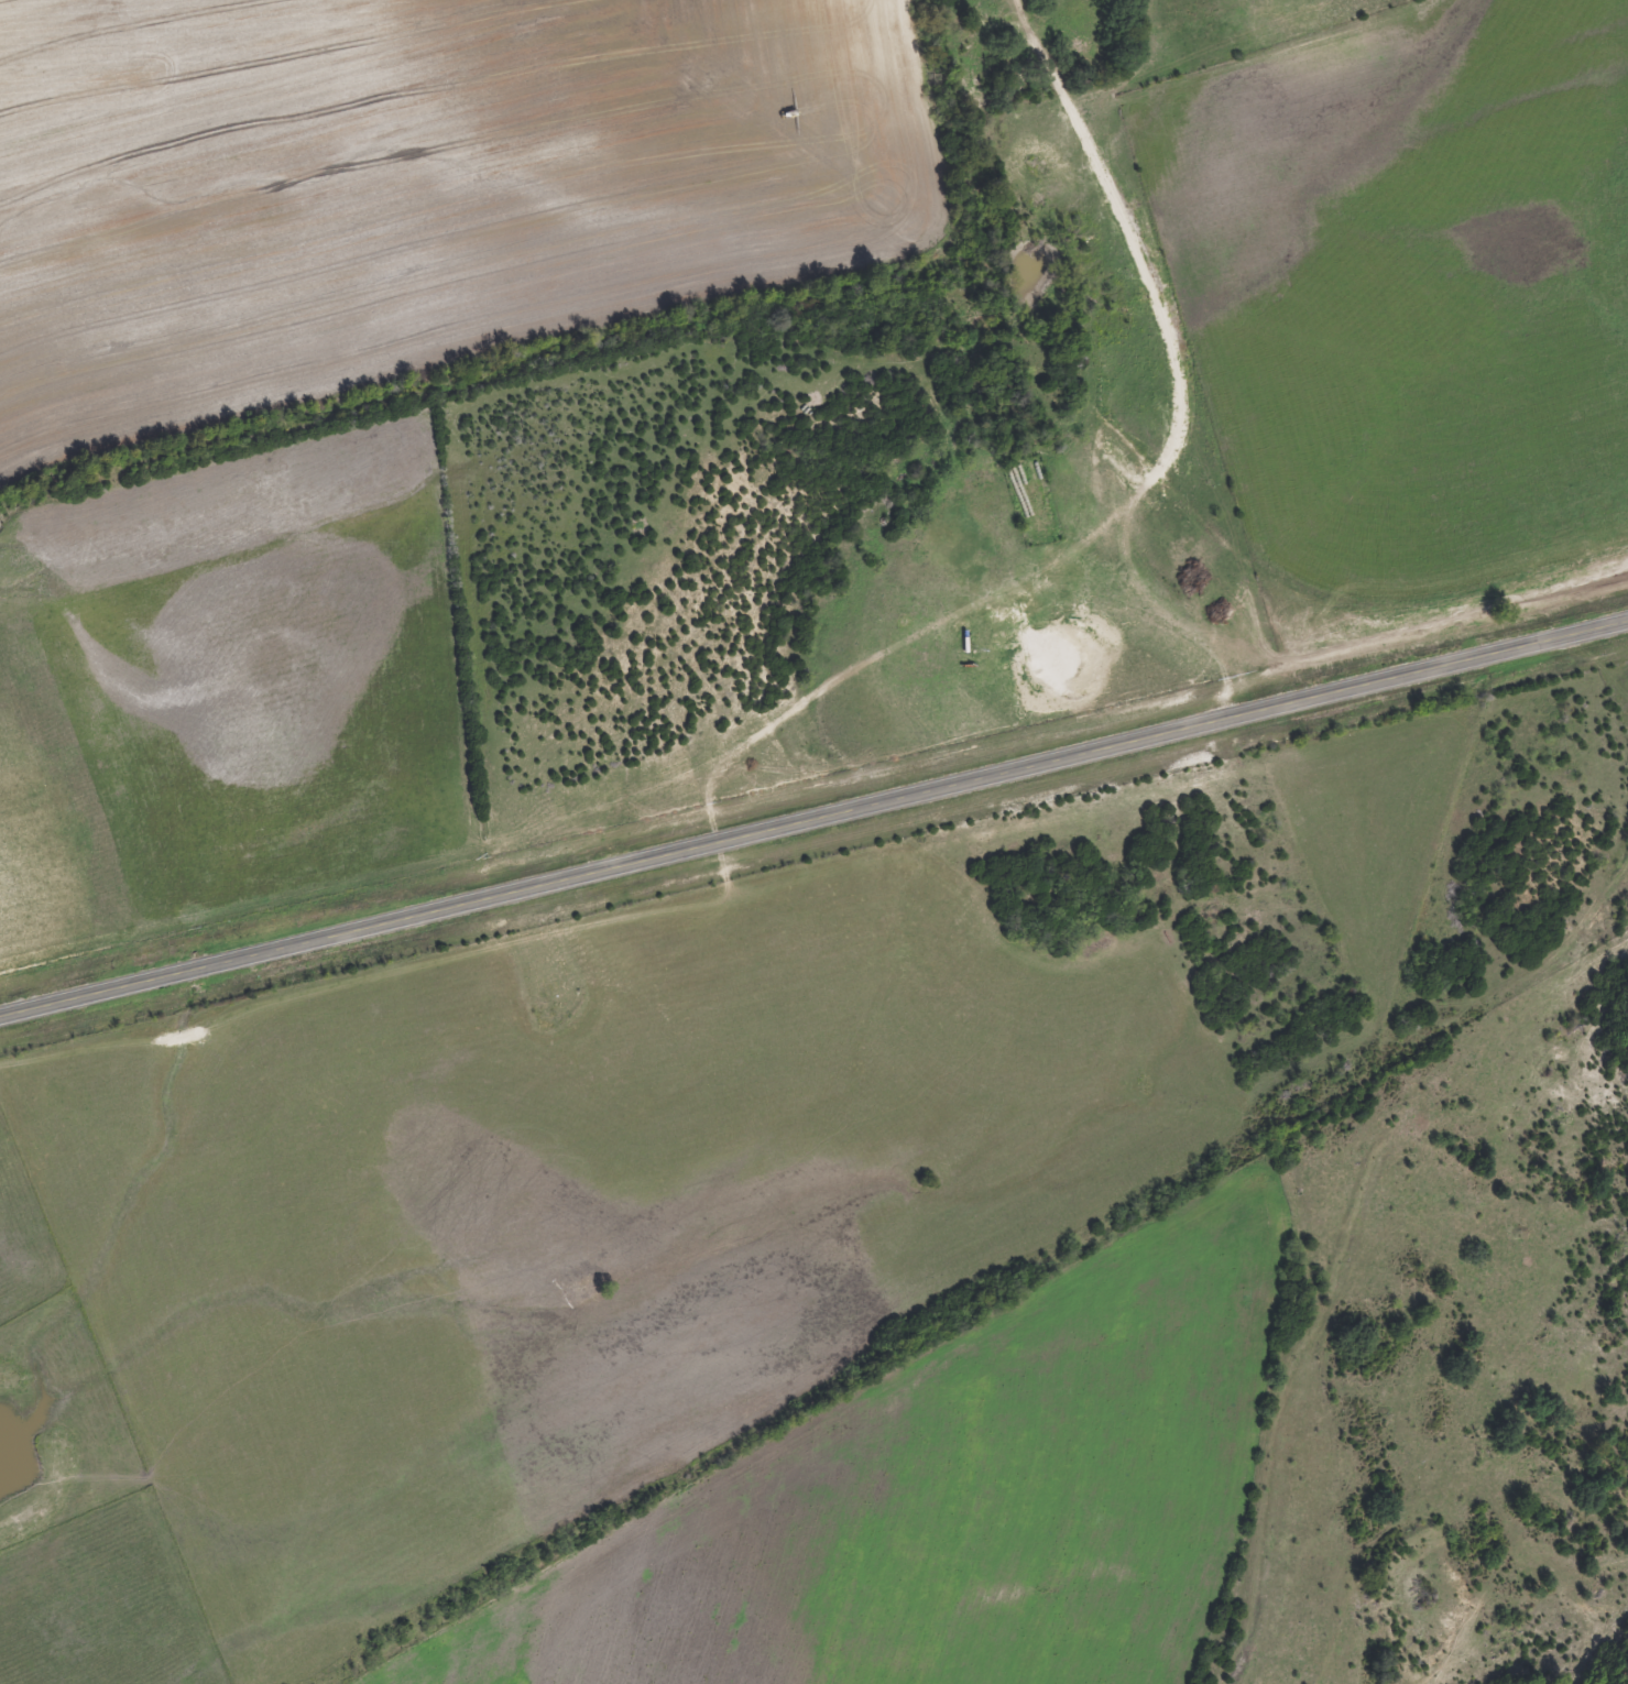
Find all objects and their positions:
road: (813, 819)

